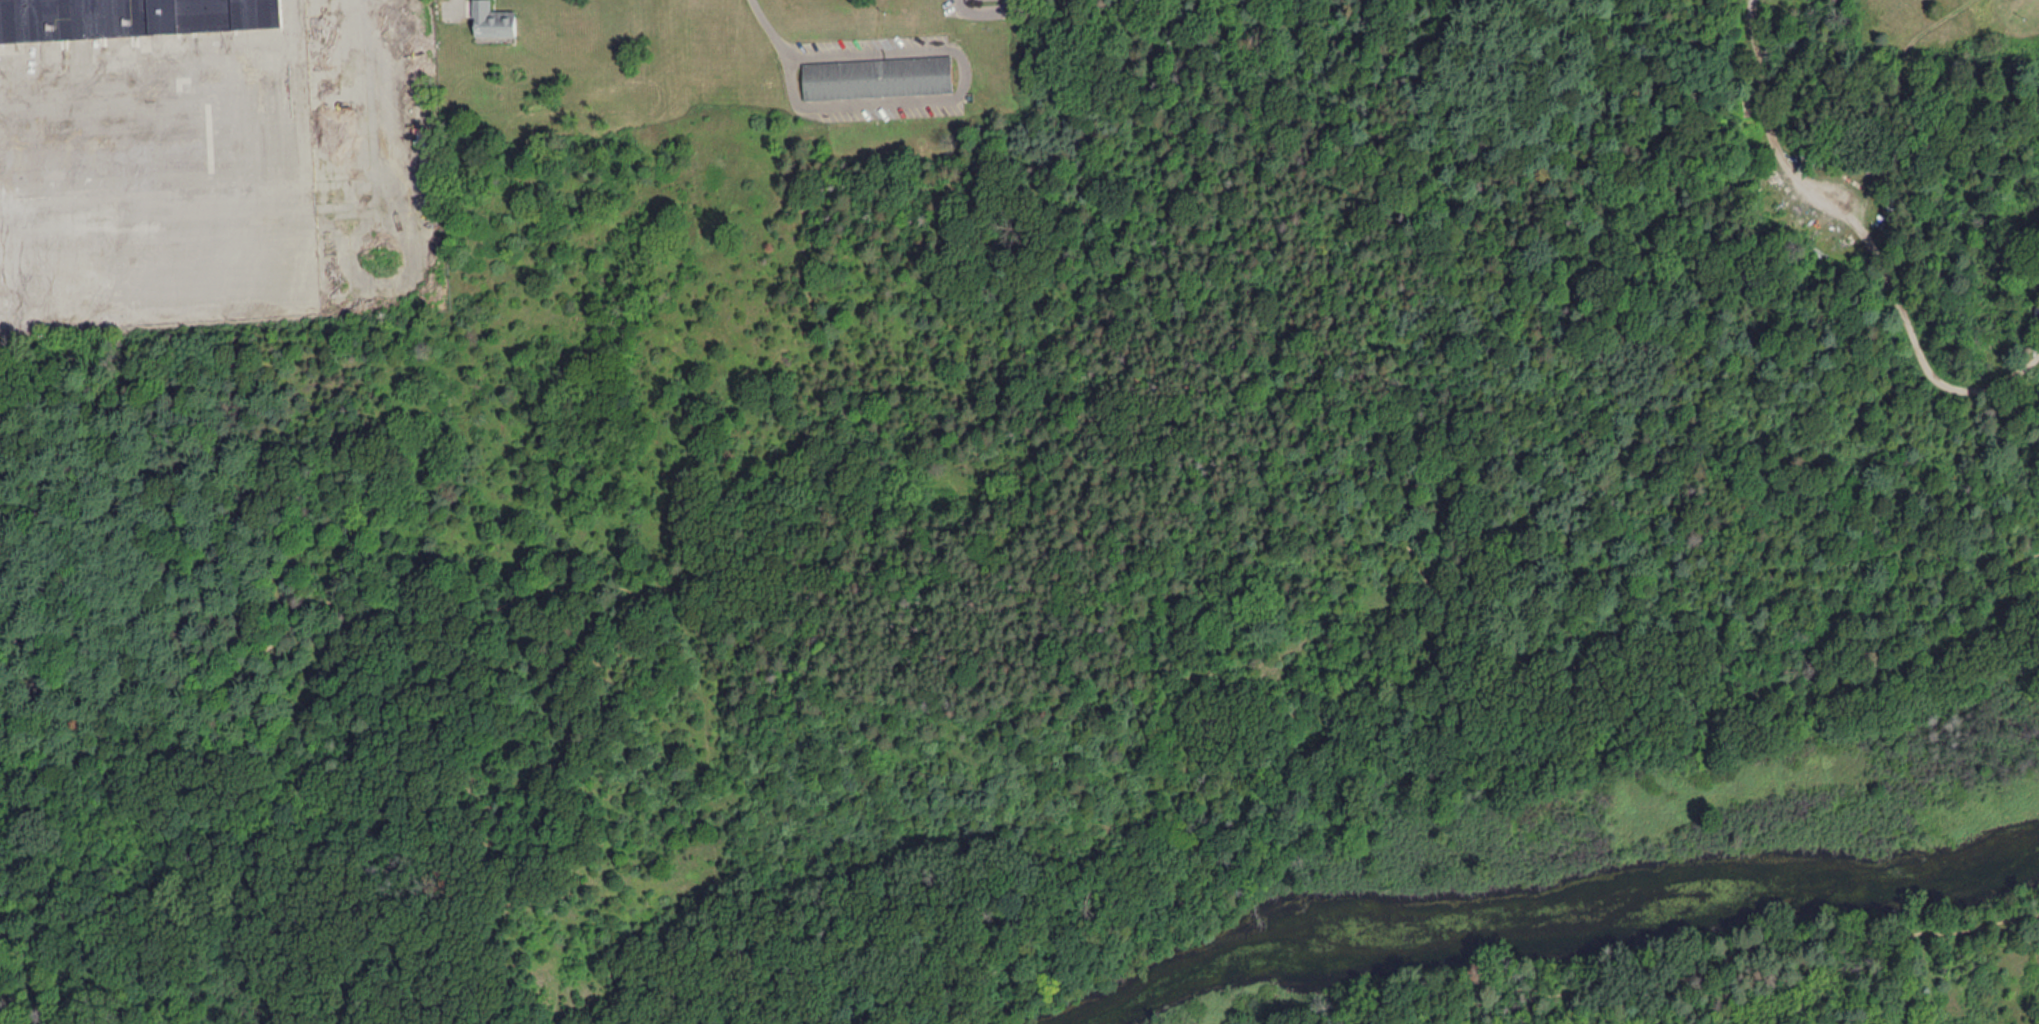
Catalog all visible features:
road: (983, 13)
building: (131, 17)
building: (492, 20)
road: (774, 30)
building: (876, 76)
road: (958, 94)
road: (1767, 131)
road: (282, 209)
road: (1865, 237)
building: (2036, 311)
park: (1097, 559)
road: (1092, 618)
river: (1552, 928)
road: (1750, 953)

